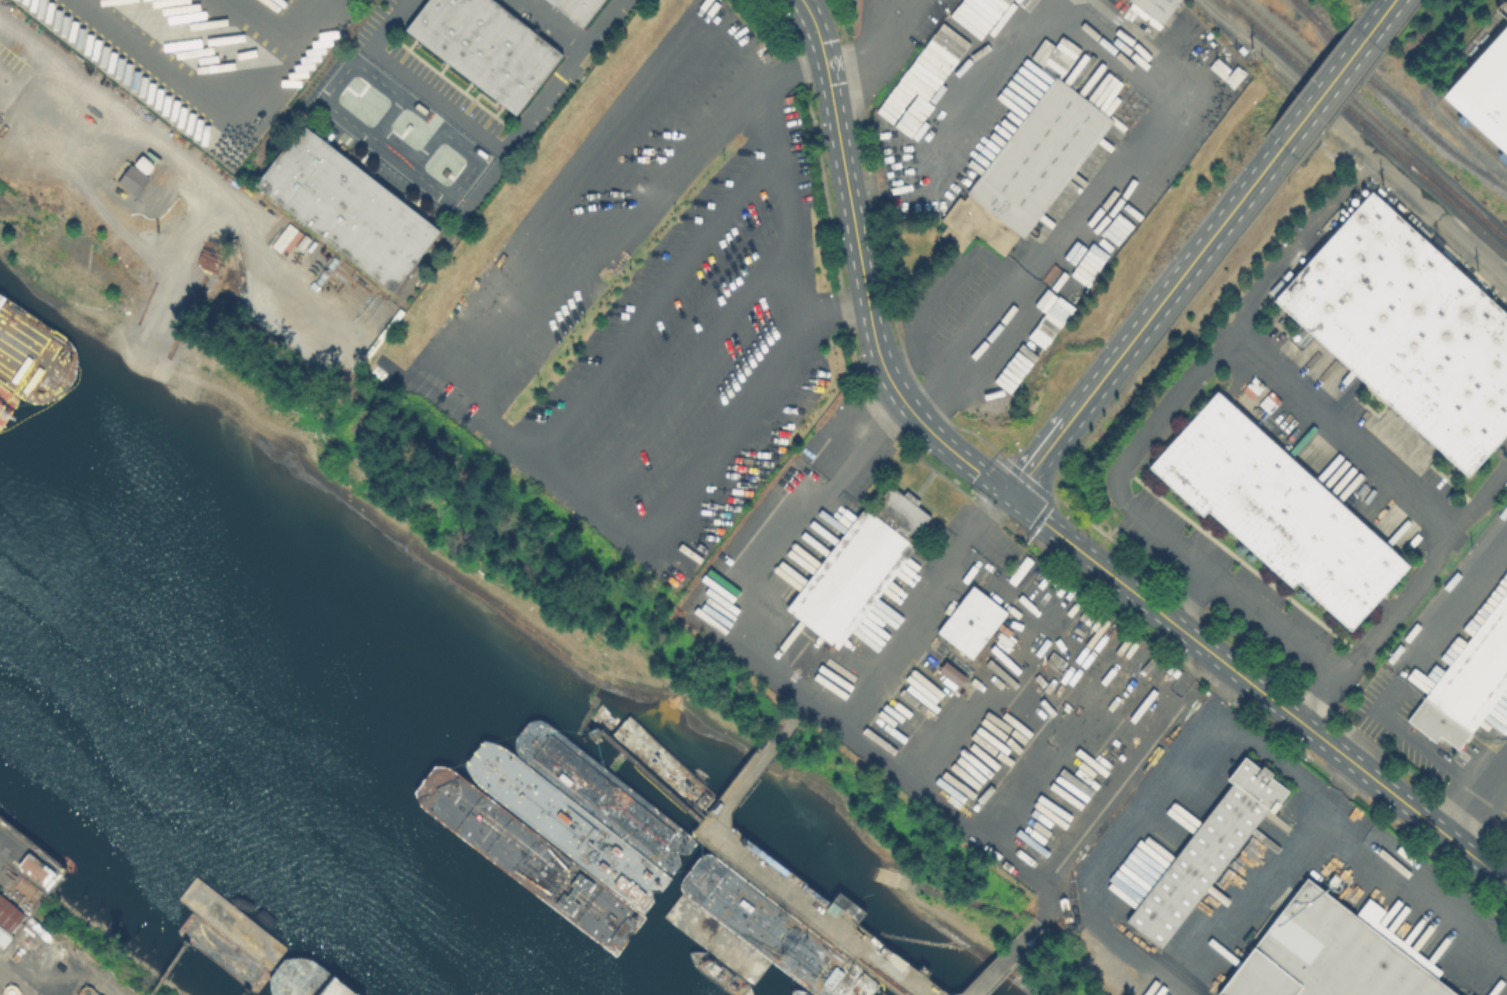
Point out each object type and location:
building: (577, 9)
building: (1155, 11)
road: (1382, 17)
railway: (1319, 22)
road: (388, 24)
road: (551, 25)
road: (322, 29)
road: (1104, 37)
road: (877, 43)
building: (486, 47)
railway: (1302, 53)
road: (227, 86)
road: (1325, 91)
road: (39, 92)
building: (1486, 93)
road: (438, 101)
railway: (1394, 101)
road: (773, 120)
railway: (1462, 122)
railway: (1367, 126)
road: (1354, 137)
road: (185, 166)
building: (1029, 172)
railway: (1434, 172)
railway: (1433, 179)
building: (131, 181)
road: (466, 205)
building: (347, 208)
road: (619, 228)
road: (1295, 244)
road: (862, 269)
road: (683, 270)
road: (939, 291)
road: (1144, 320)
road: (720, 328)
building: (1407, 328)
road: (966, 347)
pier: (31, 358)
road: (456, 369)
road: (866, 440)
road: (1024, 505)
building: (1277, 509)
road: (980, 511)
road: (1435, 515)
road: (1052, 528)
building: (862, 567)
road: (1130, 589)
road: (1194, 598)
road: (1453, 607)
building: (973, 623)
road: (907, 628)
building: (1468, 685)
road: (1321, 698)
road: (827, 703)
road: (1286, 711)
road: (1408, 738)
road: (1272, 758)
road: (1474, 792)
road: (1145, 794)
building: (555, 815)
road: (1442, 830)
road: (7, 843)
railway: (28, 847)
building: (1207, 851)
road: (745, 858)
building: (32, 866)
railway: (22, 870)
road: (1394, 874)
road: (1252, 896)
pier: (831, 897)
building: (8, 918)
building: (1332, 954)
road: (1006, 958)
road: (1142, 960)
pier: (168, 964)
building: (334, 988)

